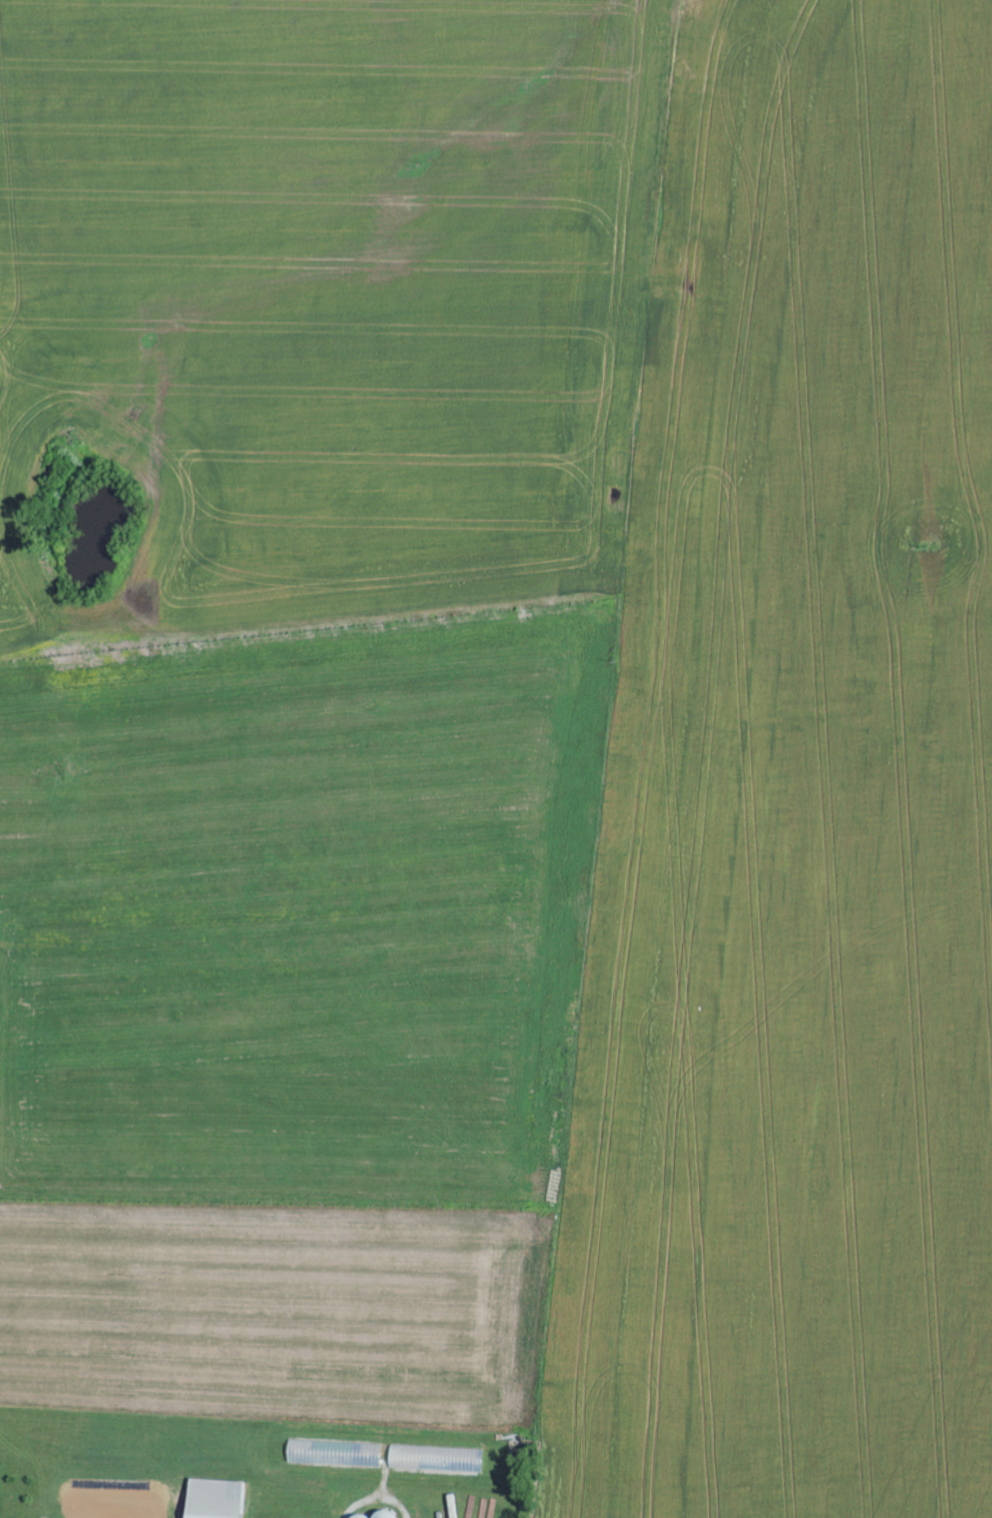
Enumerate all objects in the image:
building: (433, 1459)
building: (212, 1499)

